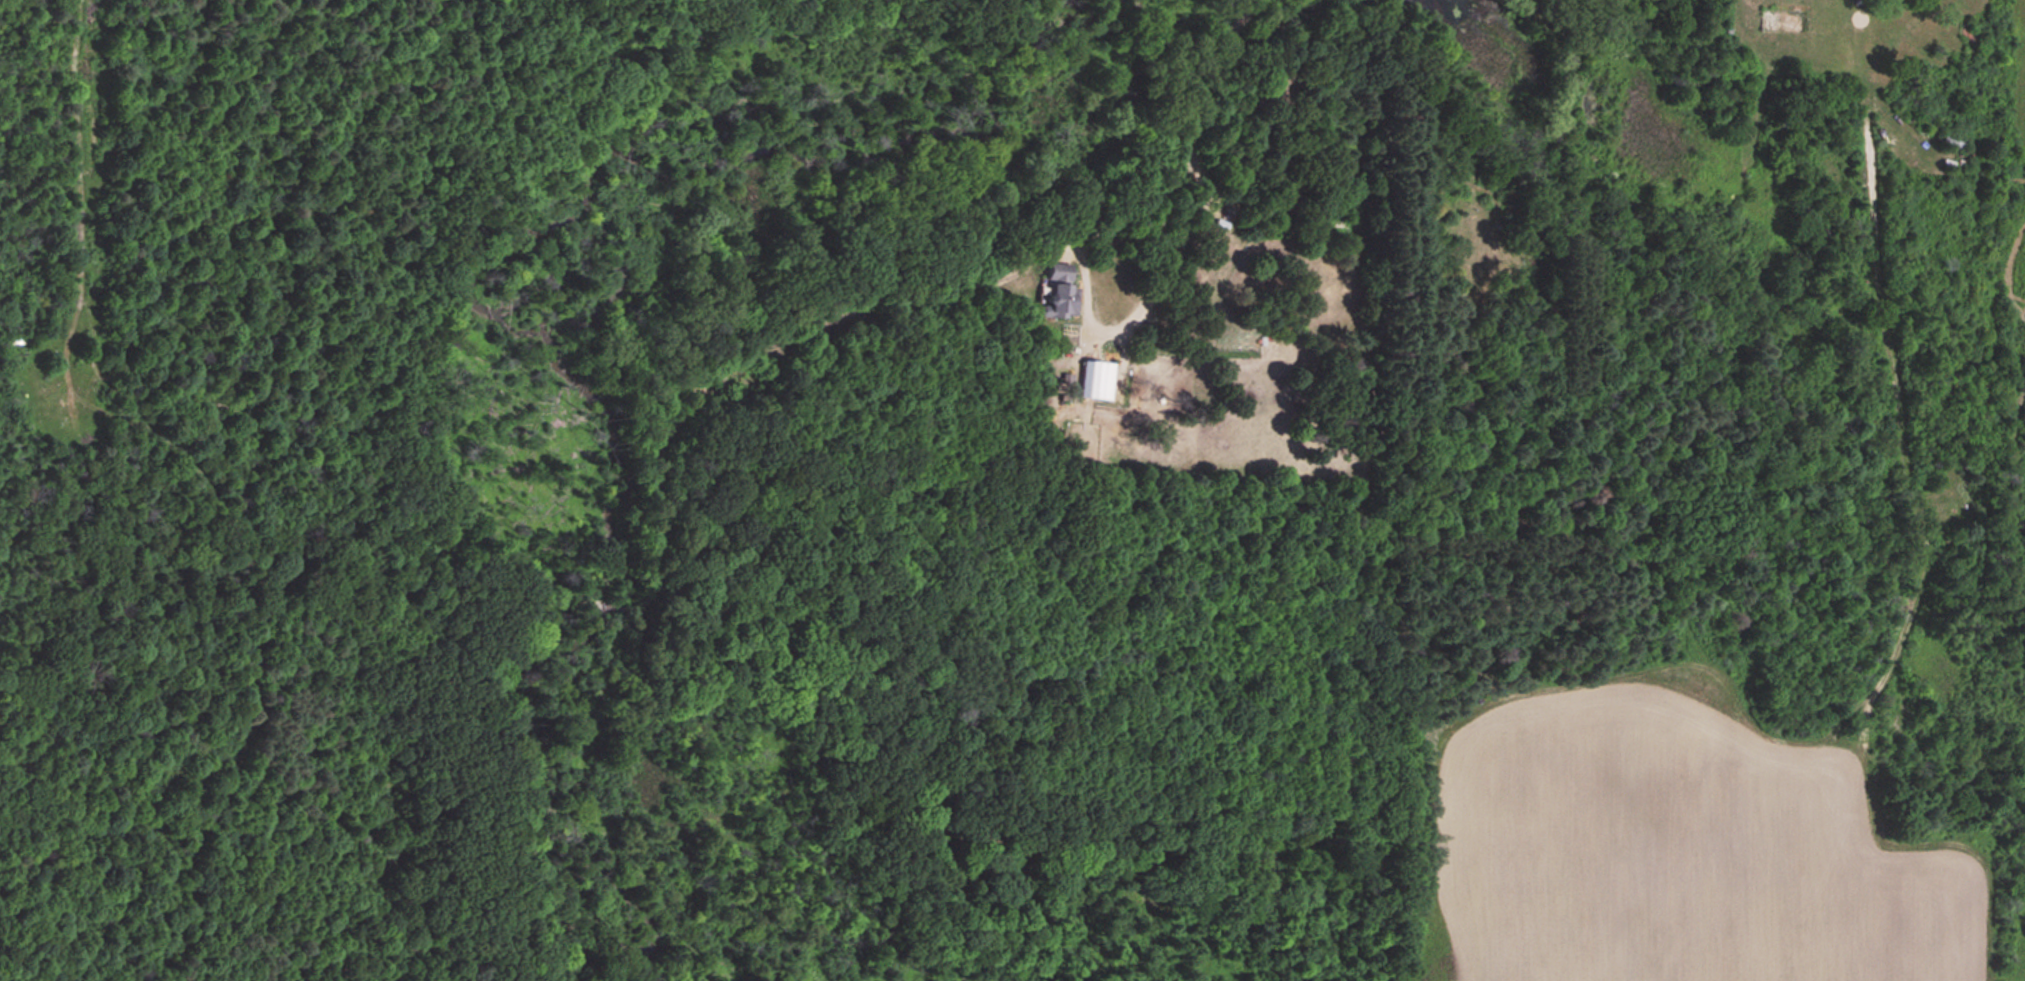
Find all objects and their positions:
building: (1951, 142)
road: (1189, 153)
building: (1059, 290)
road: (1083, 306)

